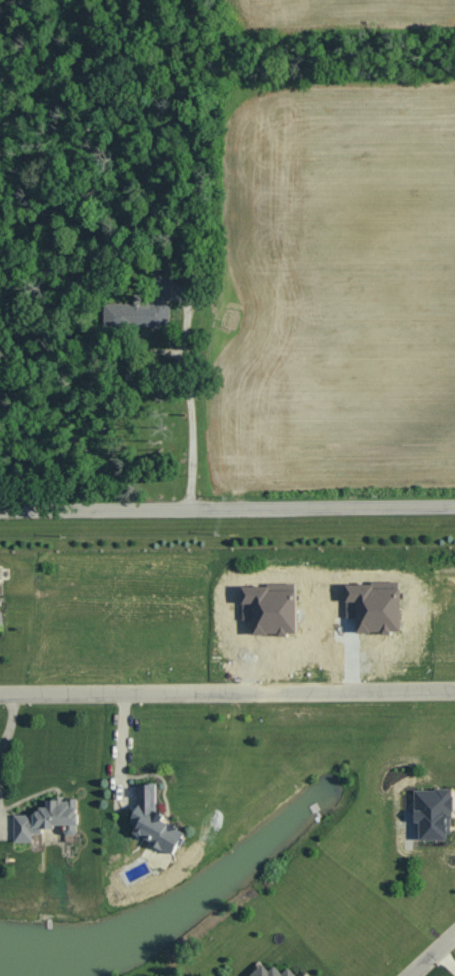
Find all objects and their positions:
building: (145, 308)
road: (190, 416)
road: (227, 509)
building: (376, 609)
building: (273, 610)
building: (0, 615)
road: (227, 691)
road: (7, 734)
road: (121, 745)
building: (435, 812)
building: (49, 818)
building: (156, 819)
road: (432, 955)
building: (273, 971)

